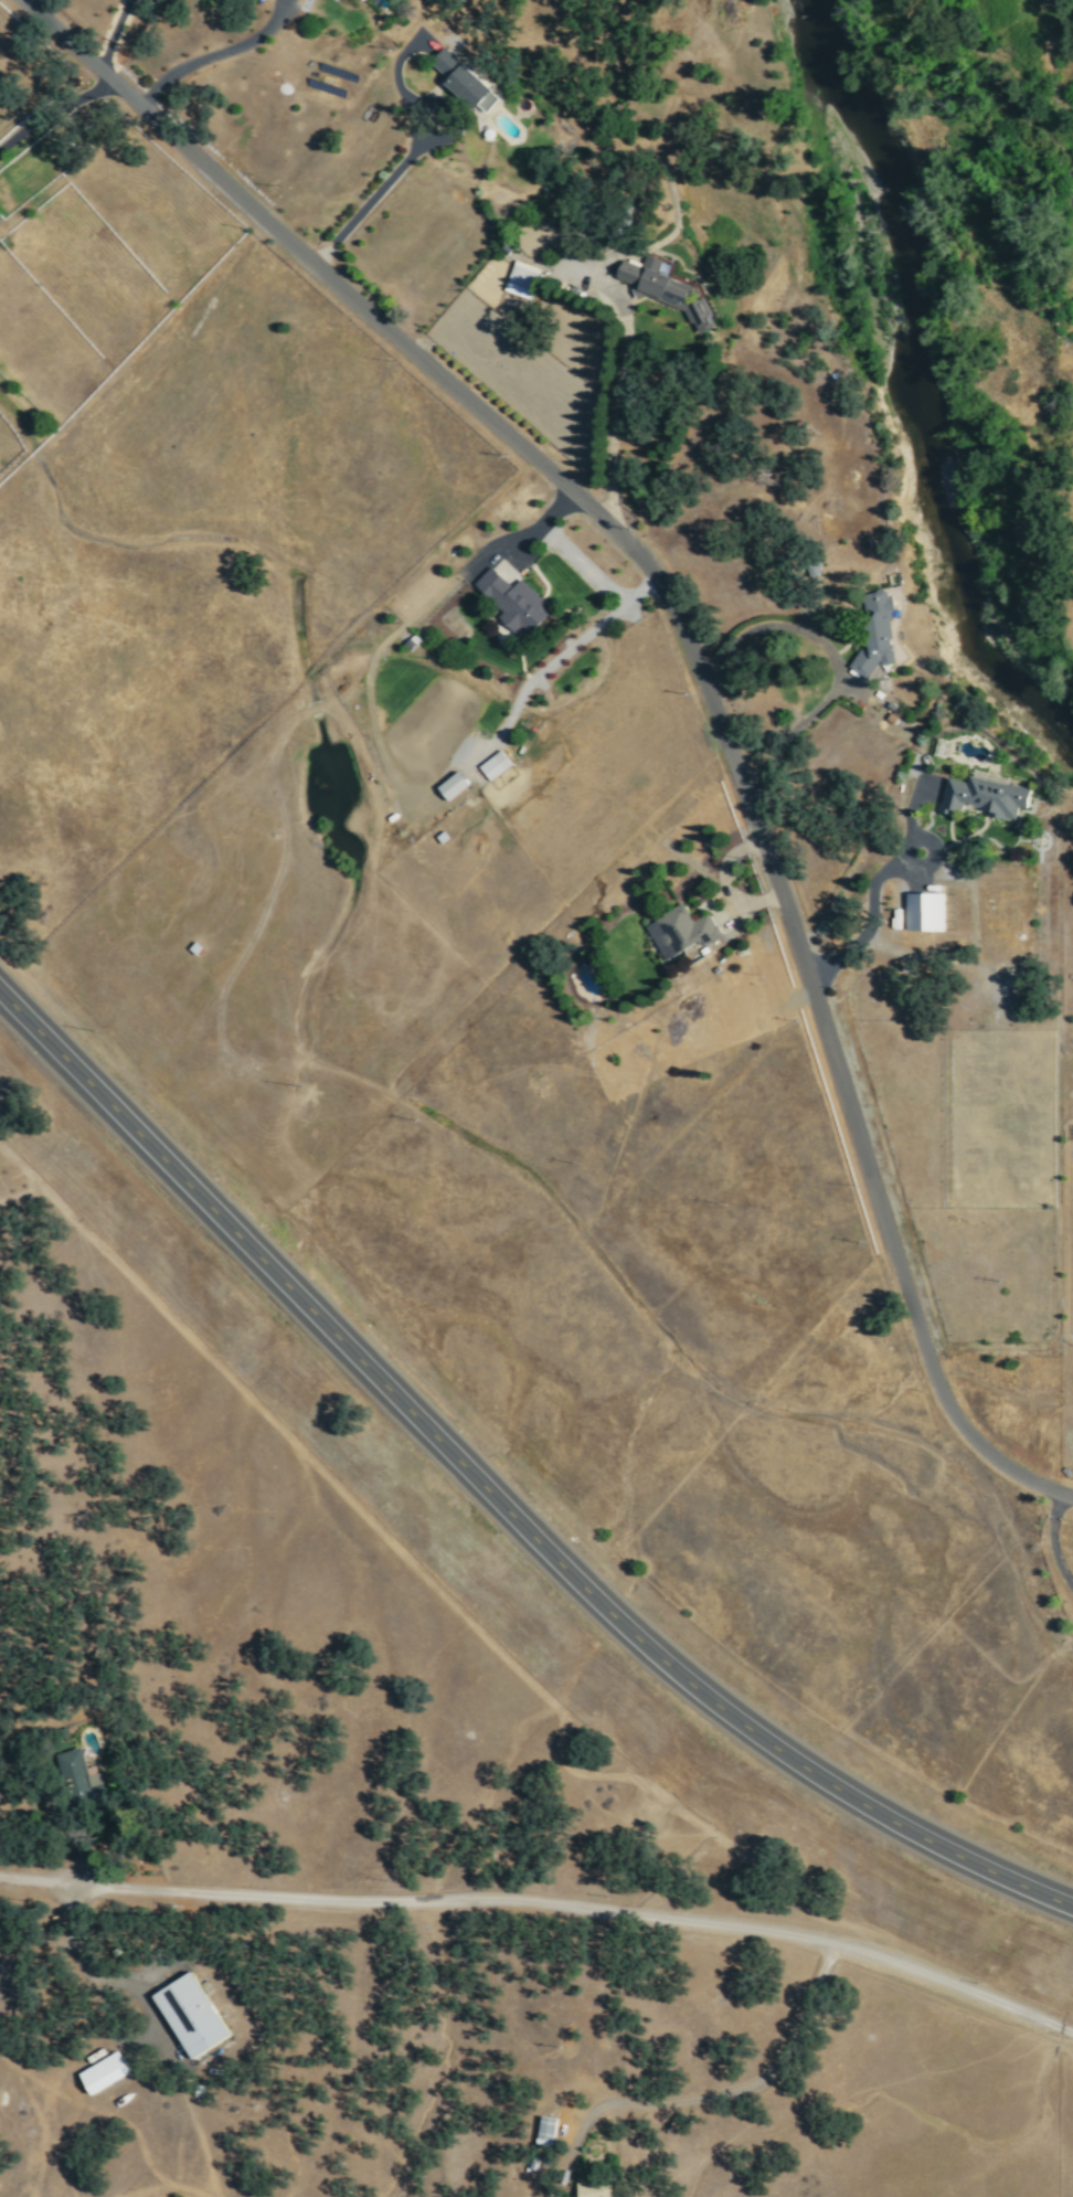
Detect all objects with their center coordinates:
building: (355, 0)
building: (463, 84)
building: (519, 279)
building: (662, 289)
river: (921, 392)
building: (510, 602)
building: (871, 631)
road: (691, 658)
building: (492, 765)
building: (449, 786)
building: (981, 797)
building: (922, 912)
building: (679, 931)
road: (497, 1504)
road: (713, 1927)
building: (195, 2014)
building: (108, 2072)
building: (549, 2131)
building: (599, 2190)

